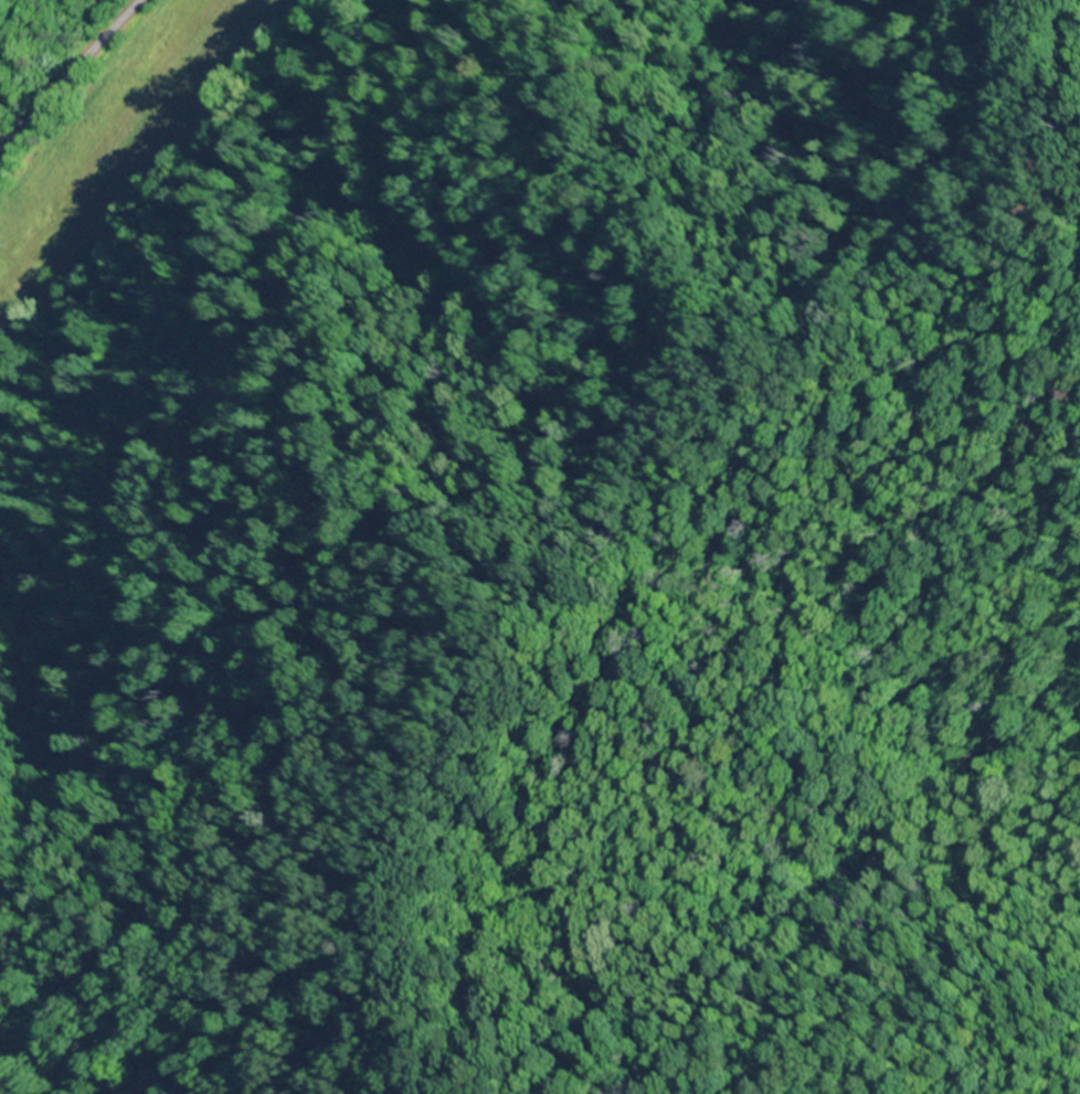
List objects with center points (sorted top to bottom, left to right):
road: (71, 73)

